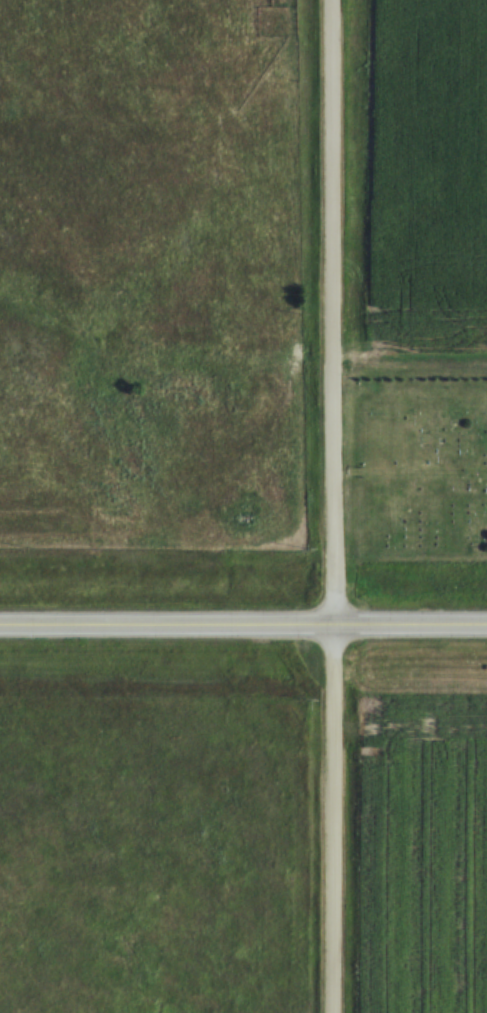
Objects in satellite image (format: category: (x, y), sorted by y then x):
park: (425, 465)
road: (334, 506)
road: (243, 628)

